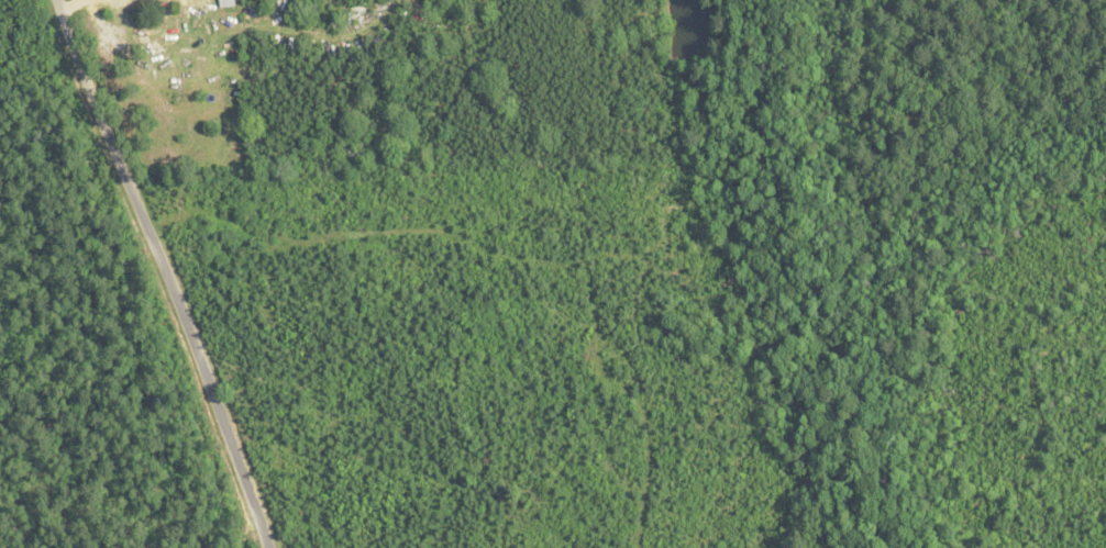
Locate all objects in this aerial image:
building: (228, 3)
road: (155, 272)

